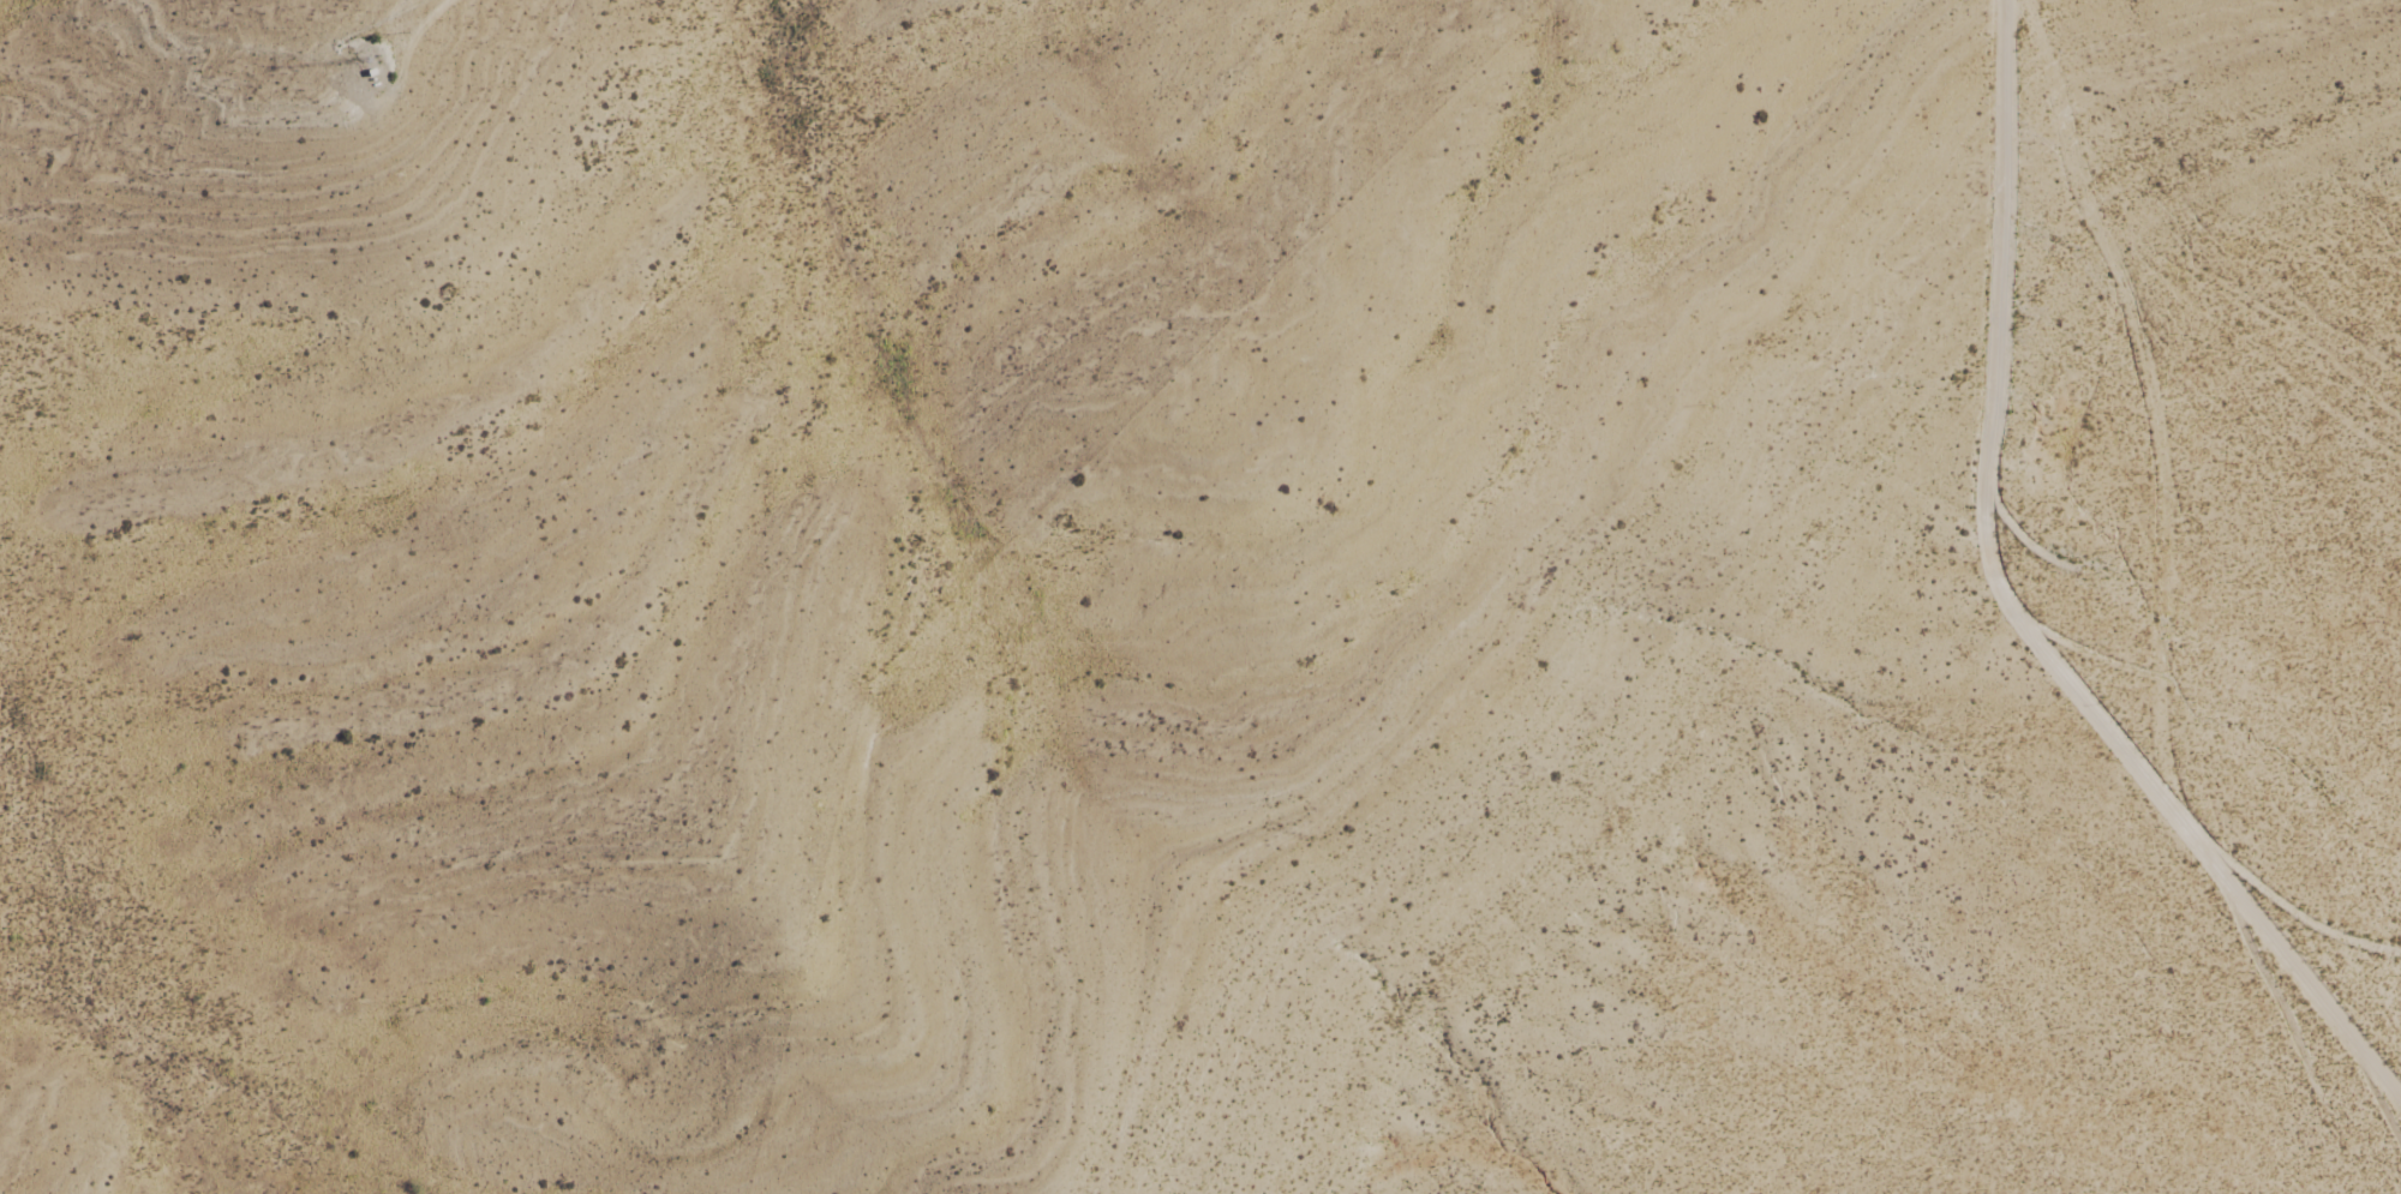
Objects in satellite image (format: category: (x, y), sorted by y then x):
road: (2012, 616)

